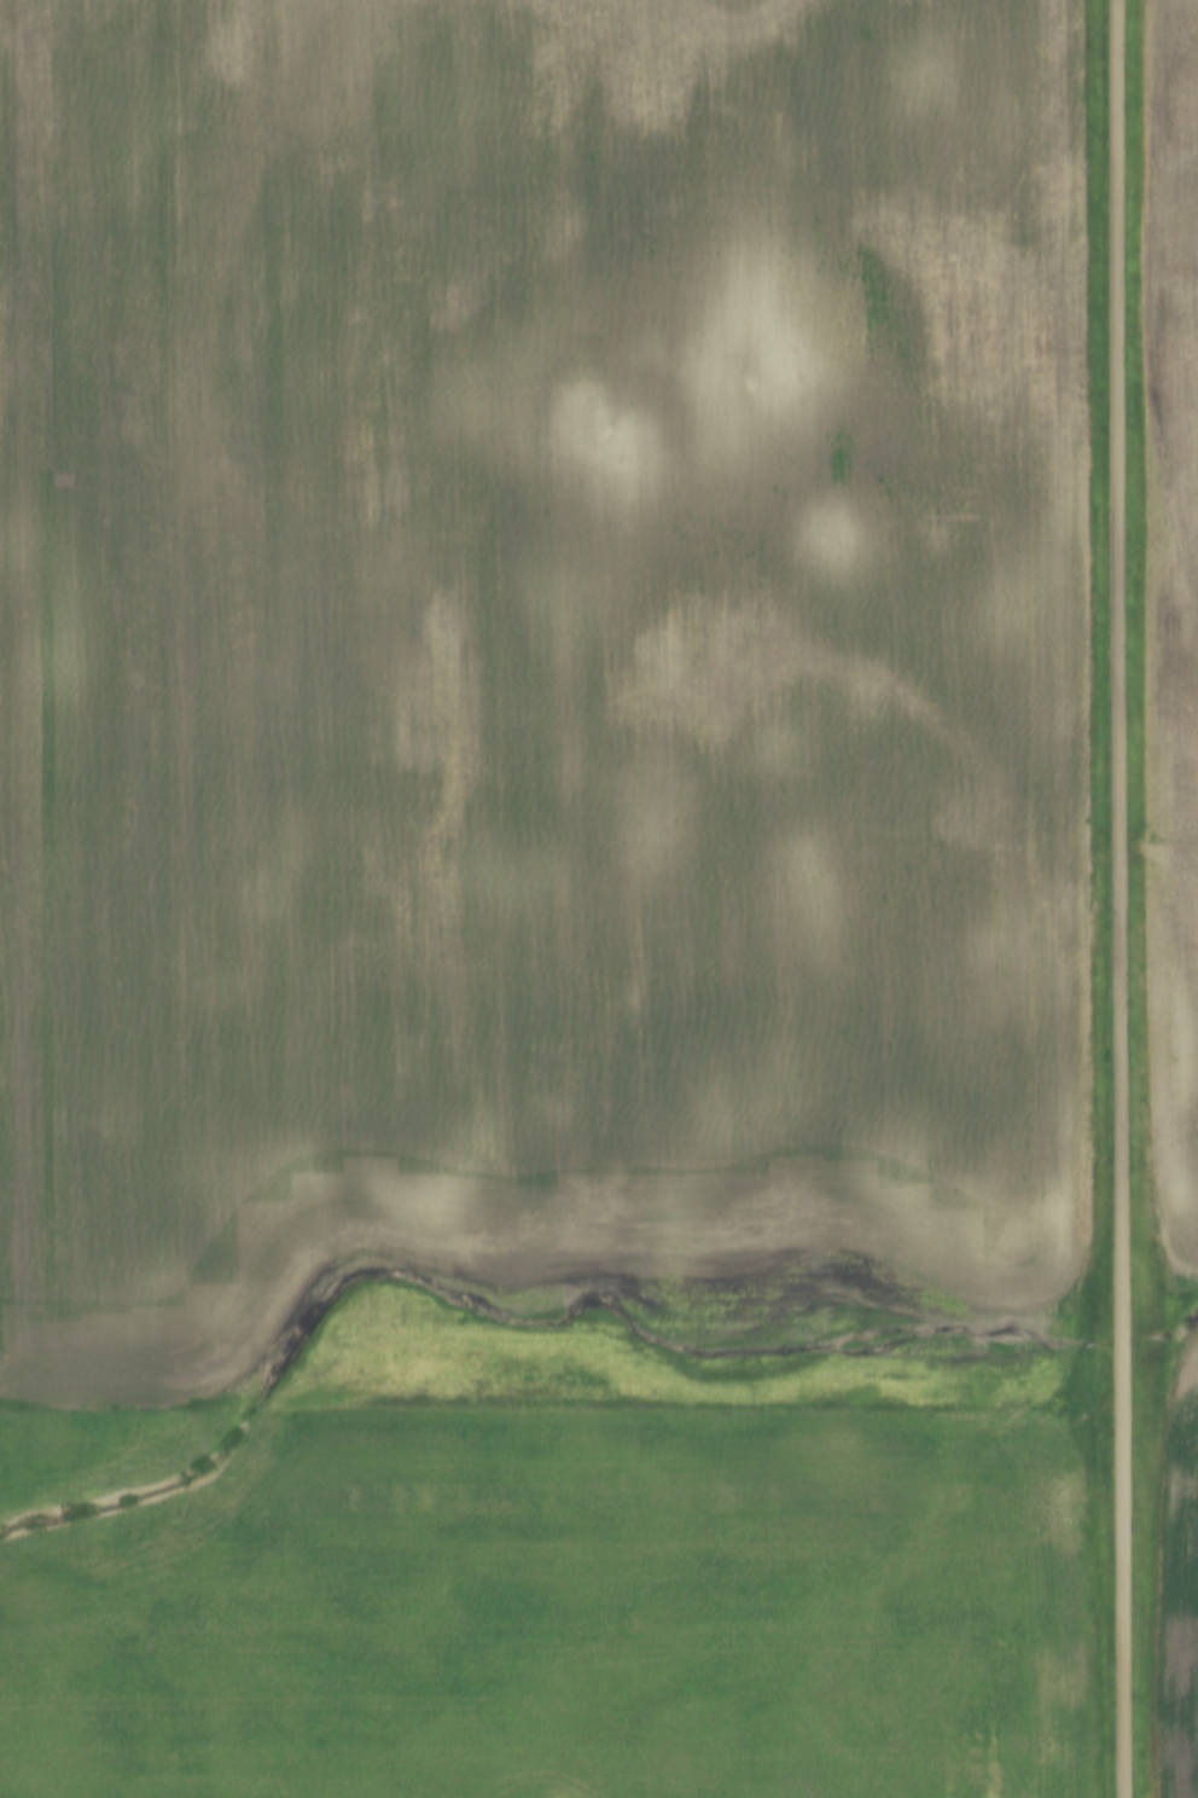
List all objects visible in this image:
road: (1128, 898)

